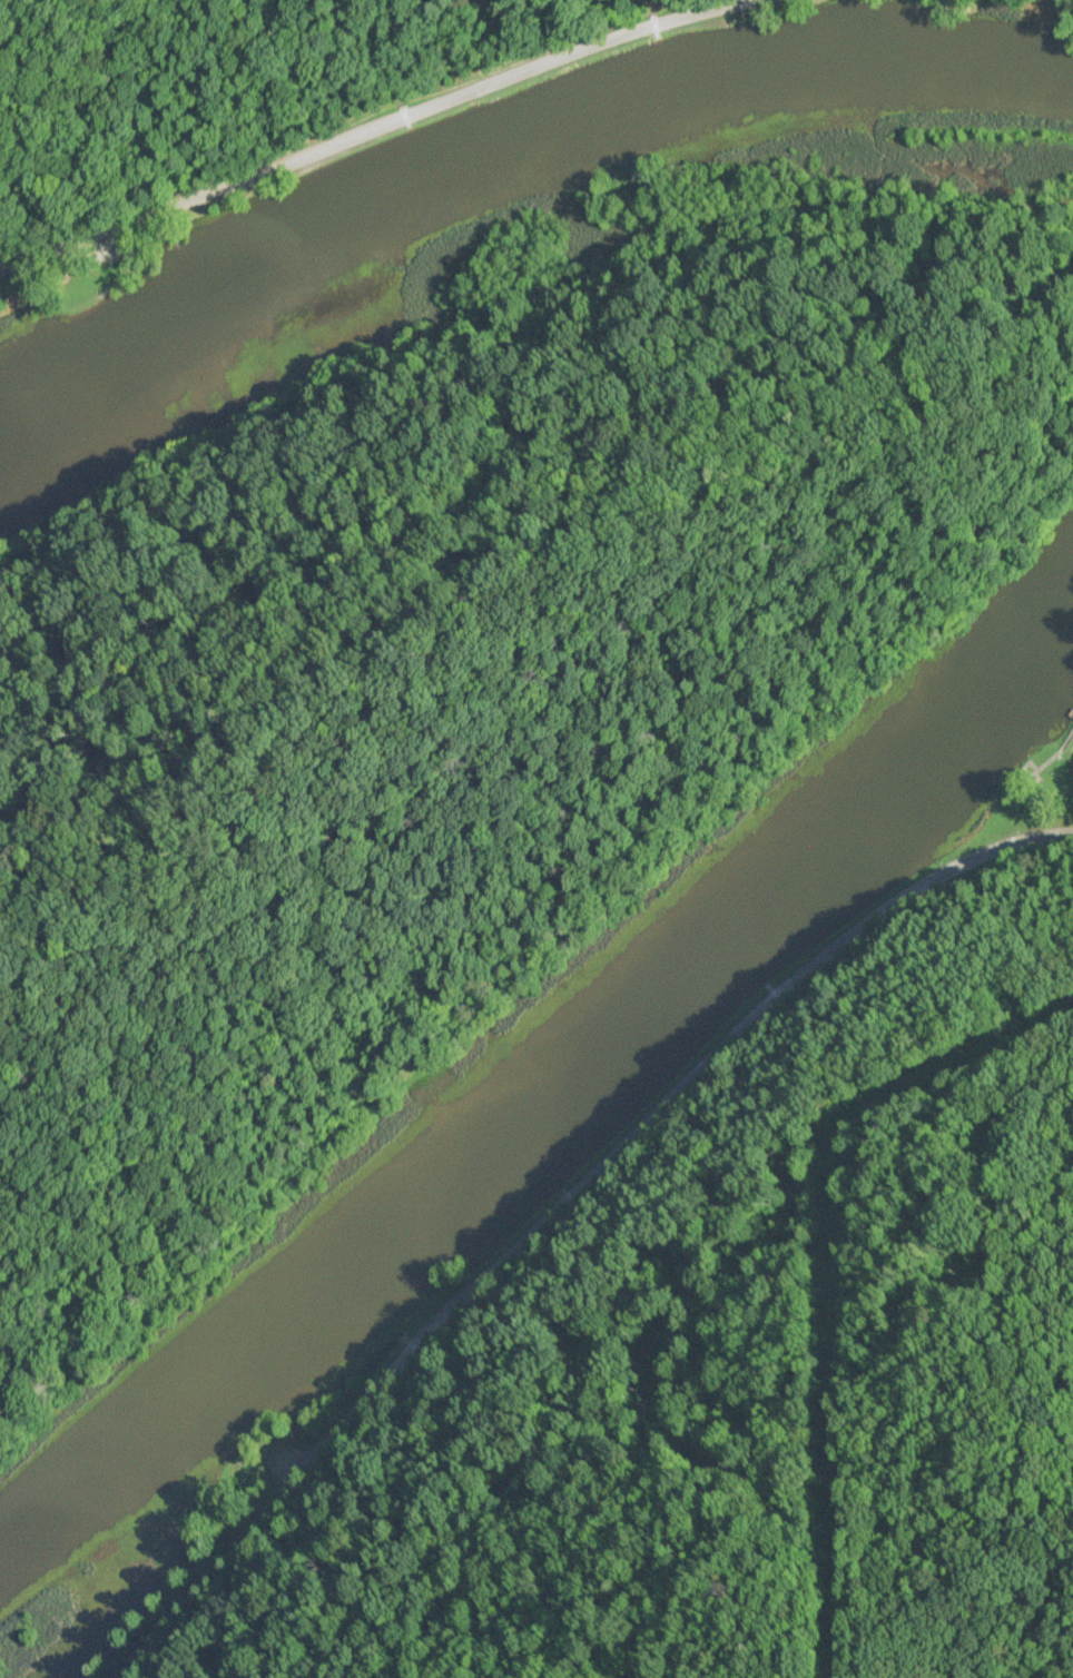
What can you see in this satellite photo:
road: (374, 122)
river: (503, 149)
river: (544, 1079)
road: (551, 1205)

